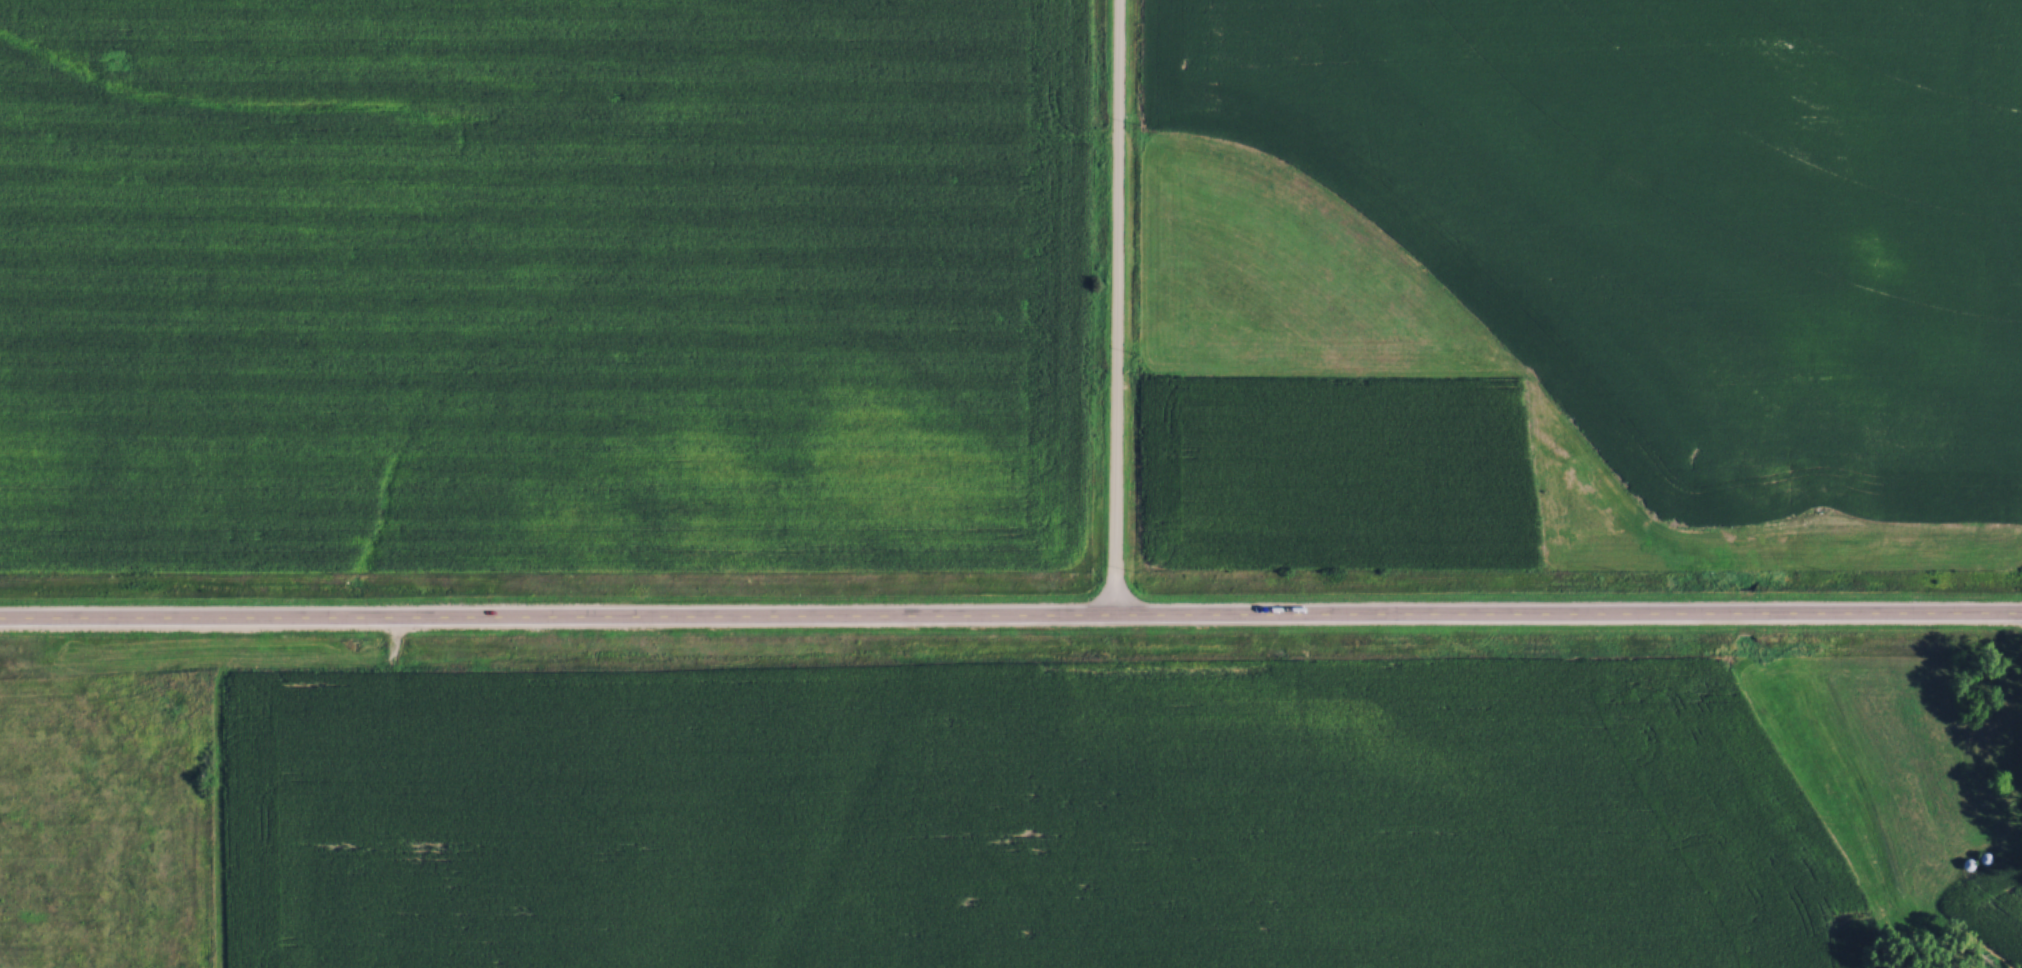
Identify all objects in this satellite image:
road: (1116, 310)
road: (1011, 622)

